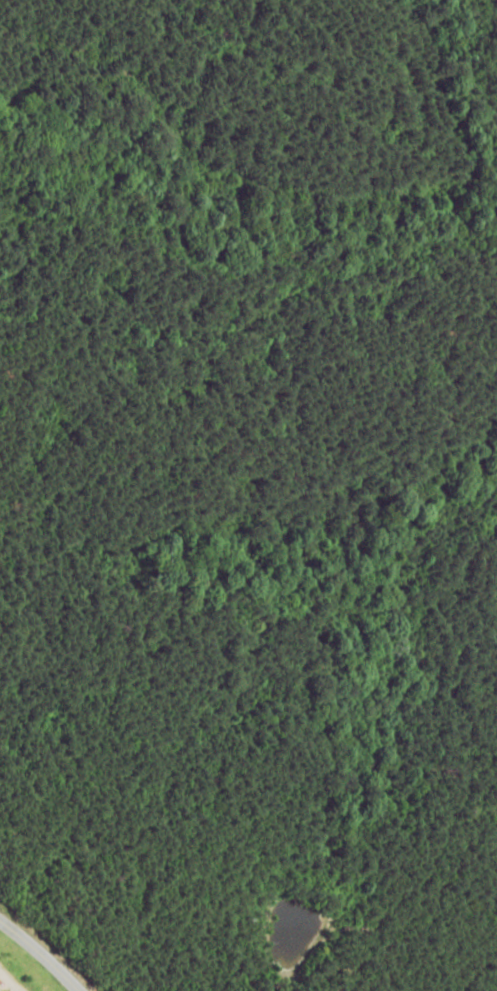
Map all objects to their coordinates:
road: (33, 955)

